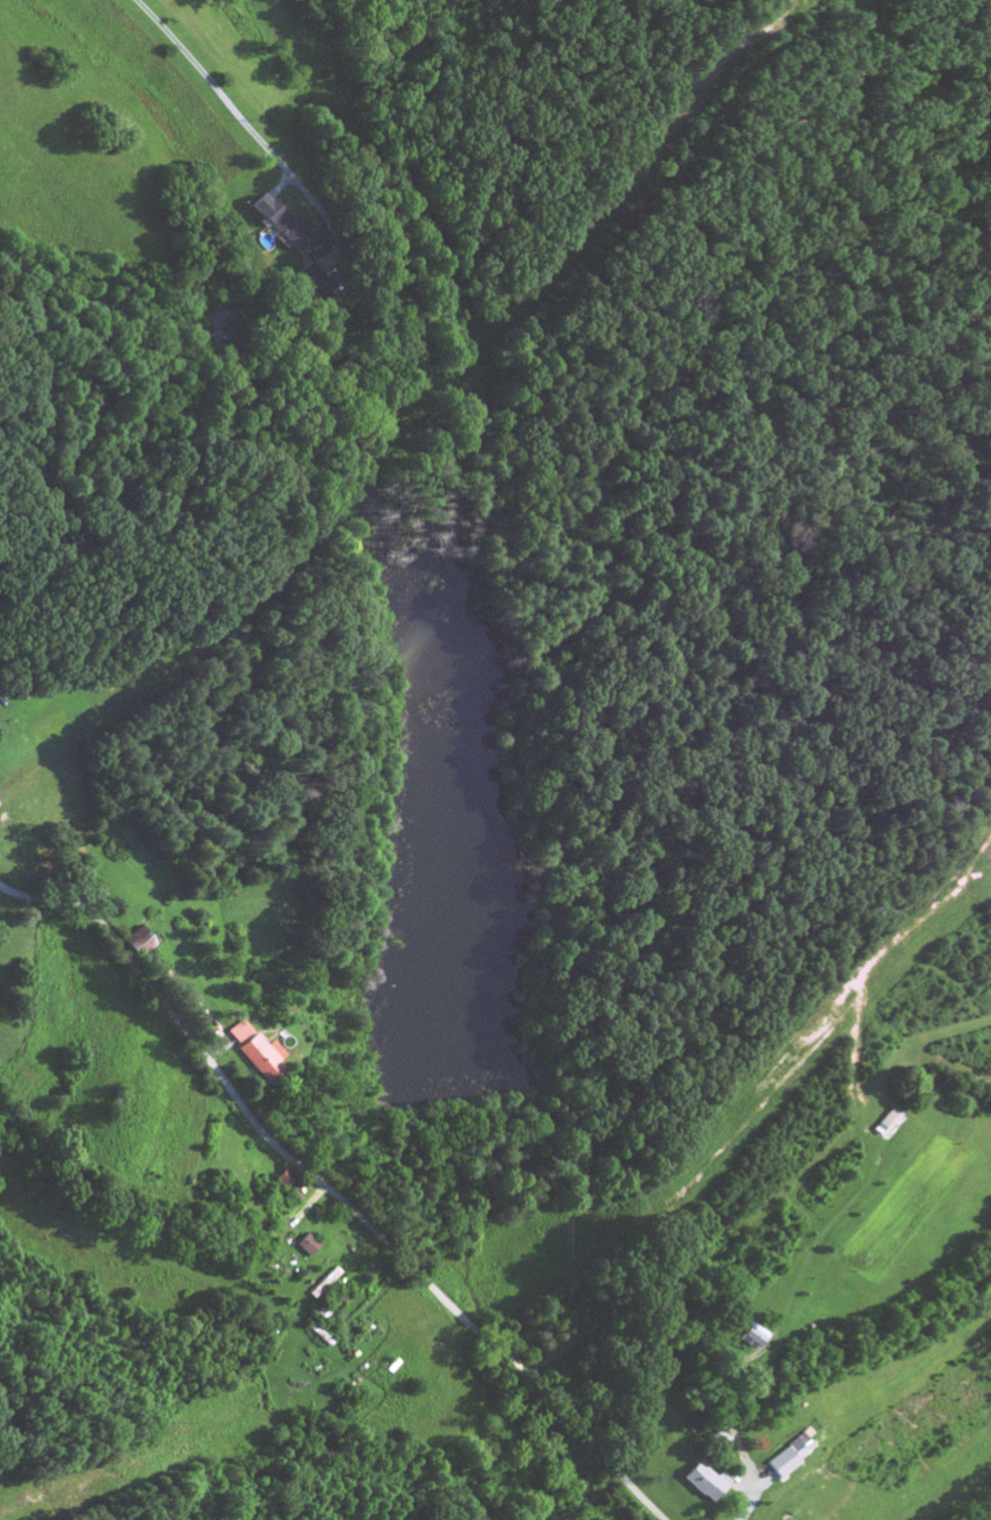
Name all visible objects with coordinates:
road: (240, 119)
building: (286, 229)
building: (319, 291)
building: (138, 944)
building: (238, 1033)
building: (260, 1059)
building: (283, 1181)
road: (330, 1194)
building: (306, 1247)
building: (753, 1339)
road: (729, 1438)
building: (783, 1465)
building: (709, 1485)

